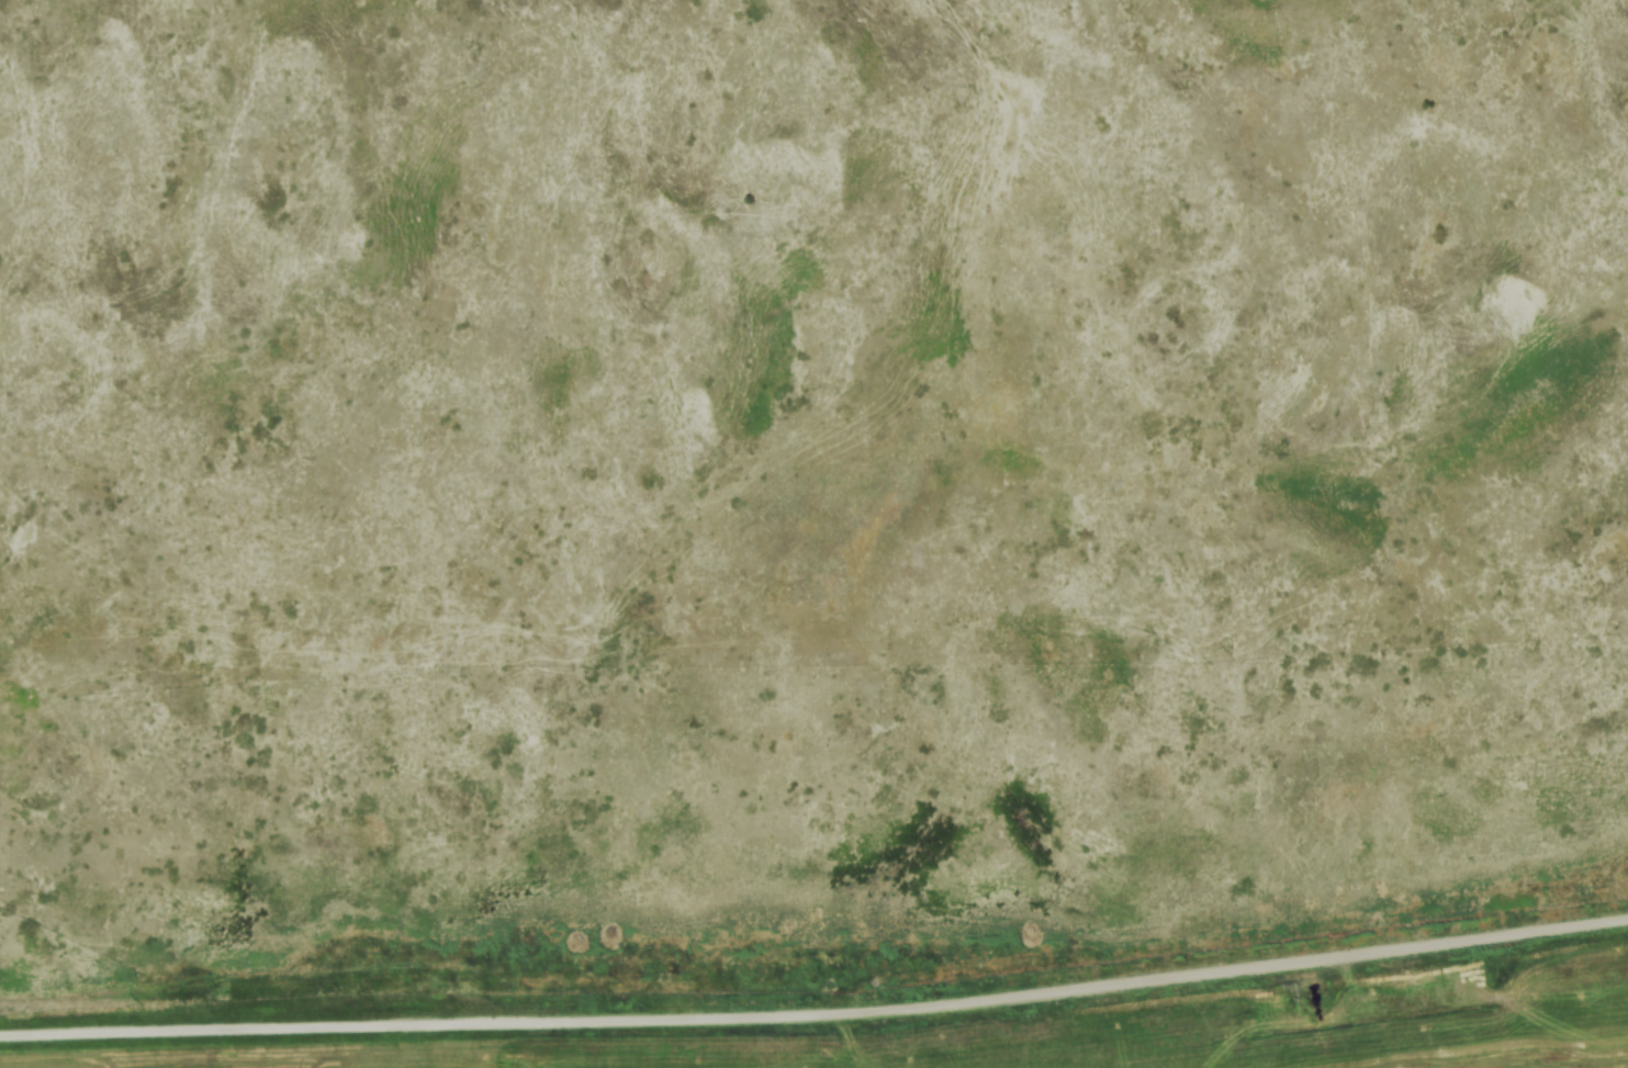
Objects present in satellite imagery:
road: (816, 1011)

